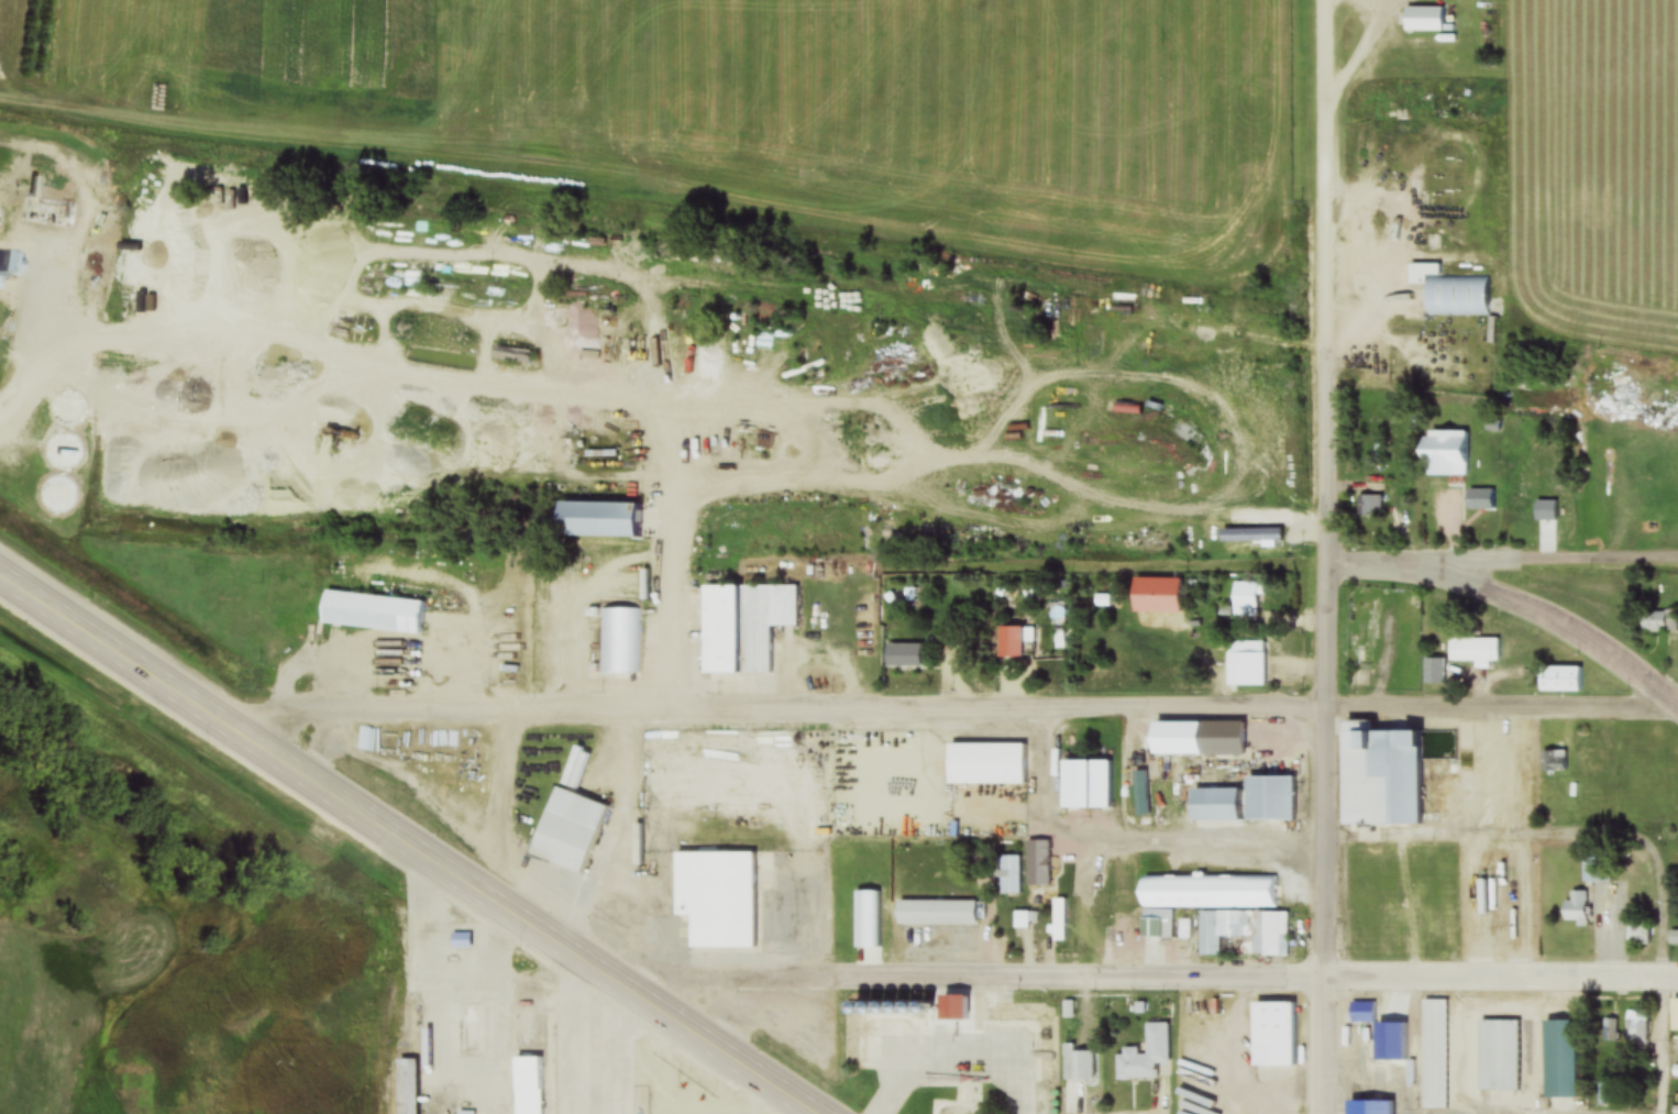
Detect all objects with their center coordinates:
building: (1422, 20)
road: (1331, 206)
building: (1450, 293)
building: (1127, 438)
building: (1443, 455)
building: (1480, 500)
building: (1369, 506)
building: (590, 521)
road: (1503, 558)
building: (1244, 603)
building: (368, 614)
road: (1553, 620)
building: (1658, 621)
building: (741, 627)
building: (619, 641)
building: (1007, 643)
building: (1473, 651)
building: (901, 657)
building: (1245, 663)
building: (1433, 671)
building: (1560, 680)
road: (1329, 695)
road: (957, 702)
building: (1219, 738)
building: (983, 764)
building: (463, 771)
building: (1376, 774)
building: (1070, 793)
building: (1267, 797)
building: (1211, 804)
building: (564, 829)
road: (1548, 840)
road: (409, 841)
building: (1037, 863)
building: (1594, 869)
building: (1008, 875)
building: (1207, 892)
building: (714, 897)
building: (1579, 907)
building: (935, 913)
building: (1081, 916)
building: (1057, 918)
building: (1393, 919)
building: (1155, 926)
building: (1245, 931)
building: (1638, 933)
airport: (174, 934)
building: (1673, 938)
road: (1254, 978)
road: (725, 981)
building: (1361, 1013)
building: (960, 1025)
building: (1636, 1027)
building: (1271, 1034)
road: (1658, 1045)
road: (1324, 1046)
building: (1435, 1055)
building: (1145, 1056)
building: (1561, 1059)
building: (1499, 1063)
building: (1078, 1065)
building: (529, 1085)
building: (406, 1087)
building: (498, 1098)
building: (1369, 1107)

